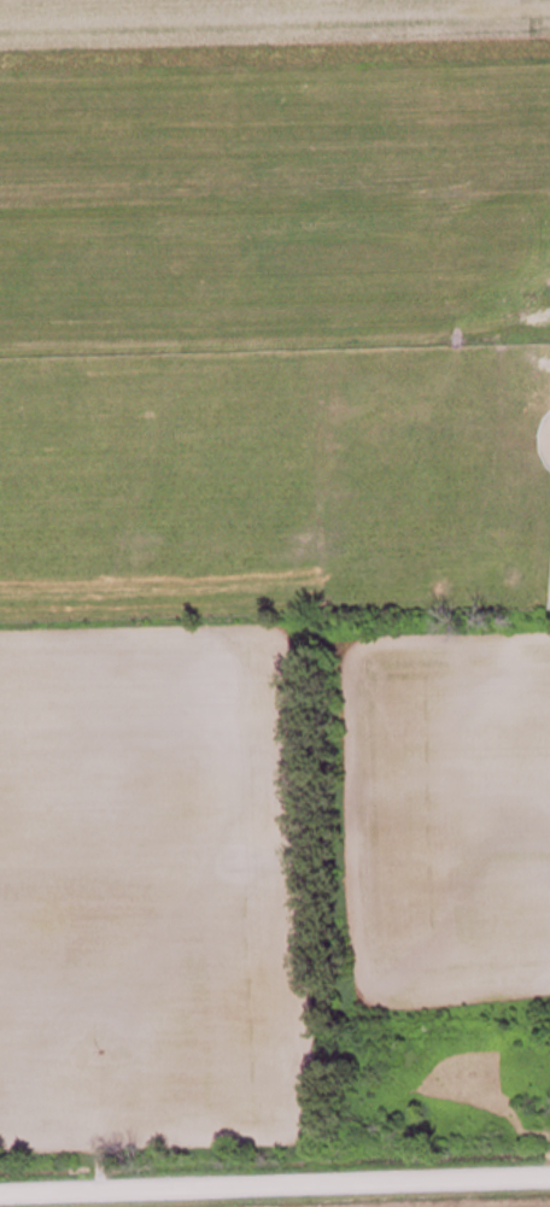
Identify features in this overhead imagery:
road: (274, 1182)

